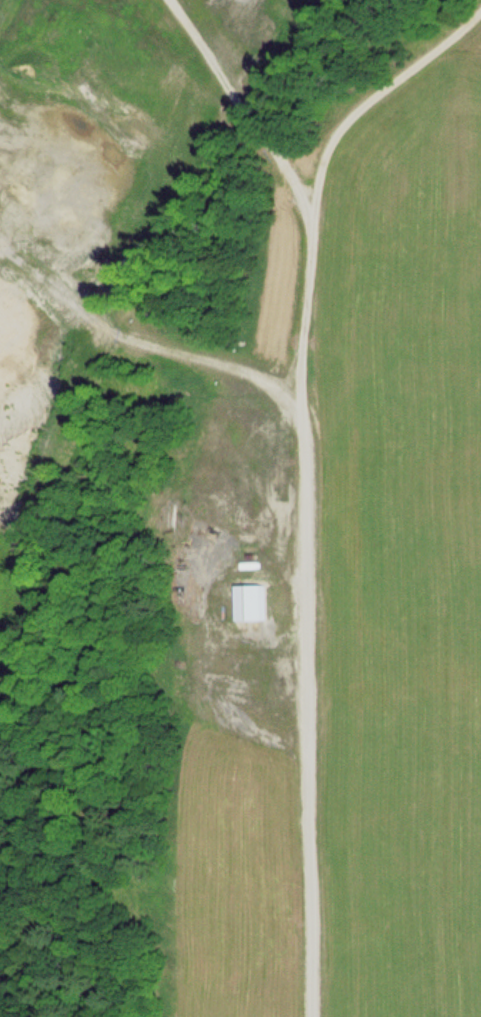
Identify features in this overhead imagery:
road: (298, 472)
building: (256, 603)

